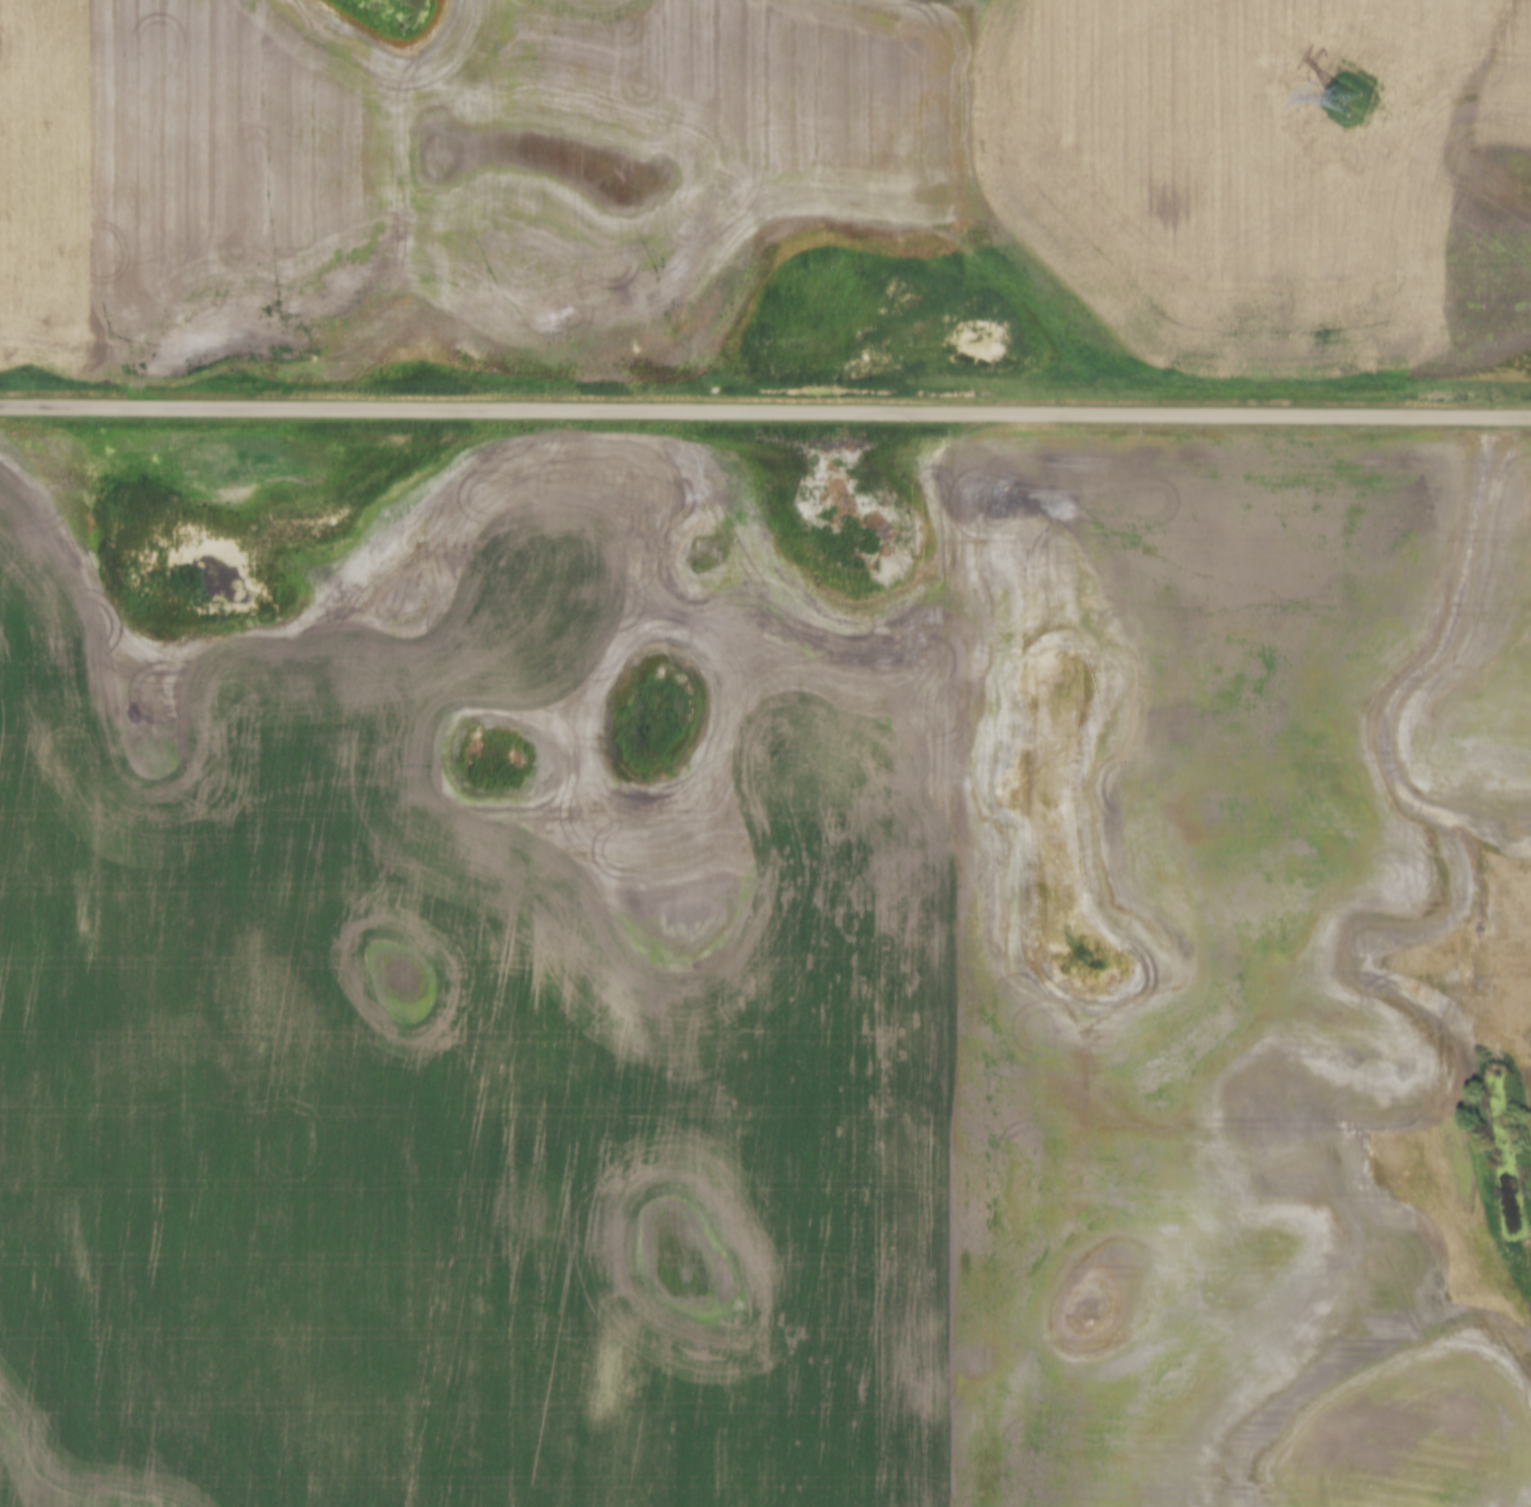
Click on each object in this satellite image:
power tower: (1348, 91)
road: (765, 414)
building: (1510, 1229)

